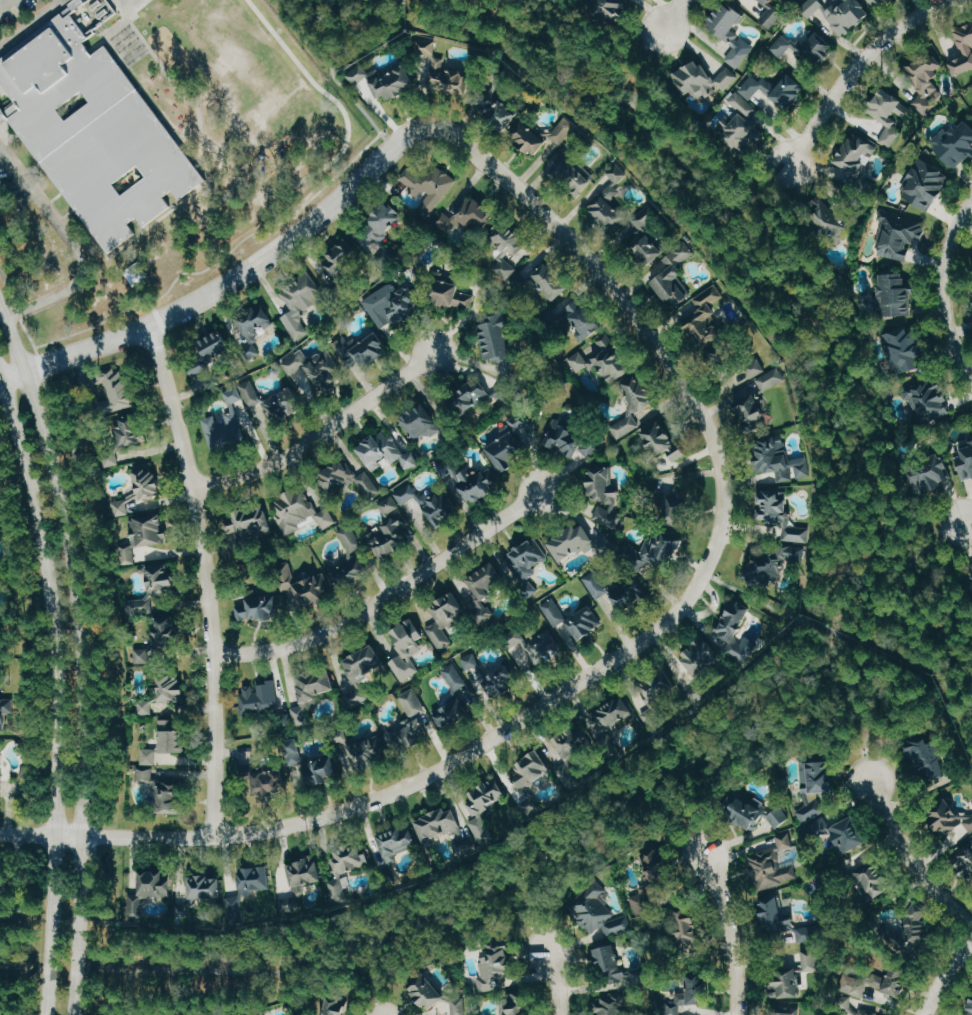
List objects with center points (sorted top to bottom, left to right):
road: (3, 2)
road: (453, 3)
building: (880, 3)
road: (70, 6)
building: (609, 8)
parking lot: (15, 12)
building: (774, 12)
road: (672, 14)
road: (29, 23)
building: (732, 31)
road: (107, 34)
building: (782, 46)
building: (963, 51)
road: (645, 65)
road: (859, 67)
building: (446, 71)
building: (358, 74)
building: (392, 79)
building: (703, 79)
building: (927, 80)
road: (338, 82)
road: (138, 87)
building: (767, 90)
road: (7, 95)
road: (341, 106)
building: (890, 106)
road: (8, 108)
road: (156, 109)
building: (499, 112)
road: (196, 113)
road: (159, 116)
building: (93, 126)
building: (740, 129)
building: (540, 136)
building: (890, 136)
building: (957, 143)
building: (856, 156)
road: (194, 162)
road: (32, 166)
building: (575, 174)
building: (926, 184)
building: (431, 185)
road: (769, 185)
road: (54, 196)
building: (612, 200)
road: (168, 201)
road: (67, 212)
building: (475, 213)
building: (830, 217)
road: (158, 218)
building: (439, 219)
road: (138, 224)
building: (383, 226)
building: (900, 235)
road: (75, 236)
building: (644, 239)
road: (89, 241)
road: (72, 244)
building: (509, 249)
building: (342, 258)
road: (217, 260)
building: (674, 276)
building: (548, 277)
road: (944, 290)
building: (454, 293)
building: (894, 295)
road: (192, 301)
building: (304, 301)
building: (393, 305)
road: (626, 310)
road: (156, 316)
building: (708, 317)
building: (584, 319)
building: (256, 325)
building: (497, 343)
building: (220, 344)
building: (902, 346)
building: (366, 350)
building: (604, 358)
building: (199, 369)
building: (318, 369)
building: (765, 375)
building: (113, 389)
building: (251, 393)
building: (232, 395)
building: (478, 397)
building: (931, 400)
building: (634, 404)
building: (750, 409)
building: (422, 421)
building: (232, 429)
building: (131, 430)
road: (319, 434)
building: (971, 436)
building: (572, 437)
building: (663, 440)
building: (509, 443)
building: (386, 452)
building: (112, 458)
building: (778, 458)
building: (966, 462)
building: (353, 478)
building: (932, 479)
building: (473, 481)
building: (406, 491)
building: (604, 496)
building: (390, 503)
building: (440, 507)
building: (678, 507)
building: (142, 512)
building: (300, 512)
building: (784, 518)
road: (968, 519)
building: (249, 528)
building: (390, 538)
building: (572, 542)
road: (929, 543)
building: (657, 551)
building: (350, 554)
building: (528, 564)
building: (971, 566)
building: (771, 567)
road: (205, 577)
building: (308, 586)
building: (621, 589)
road: (910, 589)
building: (486, 593)
road: (386, 595)
road: (767, 605)
building: (257, 607)
building: (555, 612)
building: (157, 616)
building: (447, 619)
building: (733, 619)
building: (586, 623)
road: (832, 636)
building: (516, 637)
building: (408, 648)
building: (546, 648)
road: (78, 654)
building: (703, 656)
building: (363, 673)
road: (969, 675)
building: (480, 677)
building: (316, 685)
building: (172, 688)
road: (51, 692)
building: (261, 697)
building: (413, 702)
building: (145, 707)
building: (4, 712)
building: (303, 714)
building: (451, 714)
road: (856, 717)
building: (614, 718)
building: (174, 736)
building: (409, 736)
building: (575, 743)
building: (370, 751)
building: (150, 755)
building: (927, 759)
building: (310, 765)
road: (98, 768)
building: (534, 770)
building: (146, 773)
building: (816, 777)
building: (2, 779)
building: (267, 782)
building: (171, 795)
building: (485, 801)
road: (352, 807)
building: (751, 811)
building: (779, 817)
building: (951, 822)
building: (439, 824)
building: (830, 824)
road: (682, 825)
building: (398, 843)
road: (909, 859)
building: (968, 859)
building: (772, 864)
building: (306, 874)
building: (341, 875)
building: (653, 879)
building: (873, 881)
building: (207, 888)
building: (149, 891)
road: (530, 915)
building: (600, 915)
building: (789, 922)
building: (686, 923)
road: (727, 935)
building: (917, 935)
building: (610, 961)
road: (19, 967)
building: (497, 968)
building: (796, 976)
road: (375, 977)
road: (947, 978)
building: (894, 981)
road: (555, 982)
building: (436, 994)
building: (691, 996)
building: (514, 1006)
building: (611, 1006)
building: (336, 1007)
building: (794, 1008)
building: (871, 1012)
building: (971, 1012)
building: (261, 1013)

